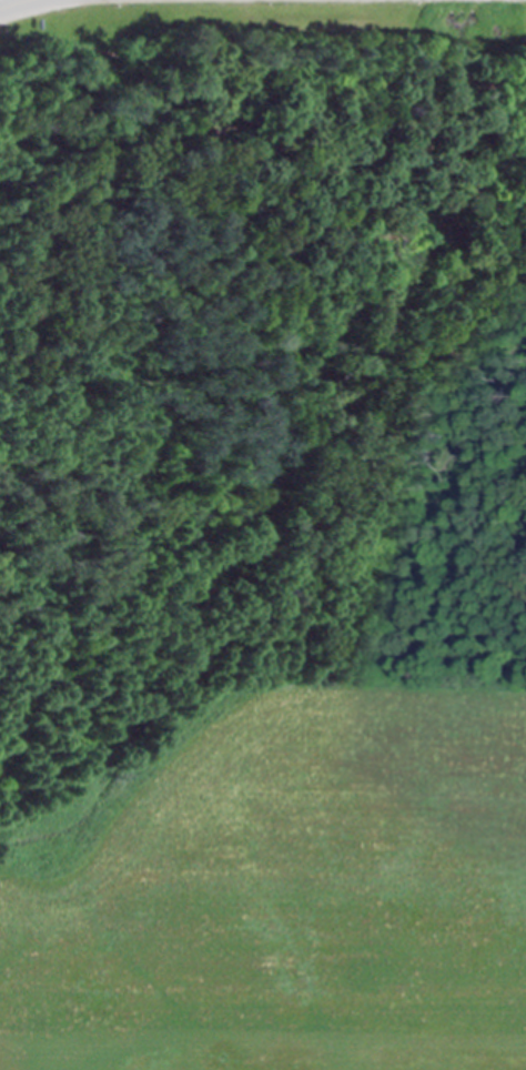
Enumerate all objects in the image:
road: (12, 4)

